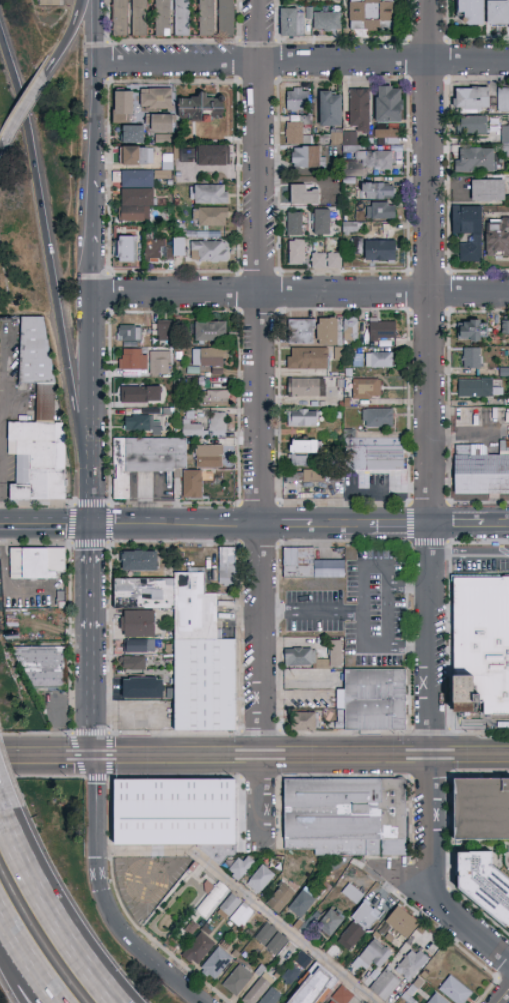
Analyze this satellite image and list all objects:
building: (50, 3)
building: (472, 11)
building: (498, 13)
building: (370, 14)
building: (139, 17)
building: (162, 17)
building: (182, 17)
building: (207, 17)
building: (226, 17)
building: (120, 18)
building: (326, 21)
building: (292, 22)
road: (69, 37)
road: (302, 64)
building: (156, 98)
building: (297, 99)
building: (473, 99)
building: (503, 99)
building: (389, 105)
road: (24, 107)
building: (123, 107)
building: (331, 108)
road: (95, 110)
building: (204, 110)
building: (359, 110)
building: (162, 123)
building: (472, 125)
building: (294, 132)
building: (133, 134)
building: (387, 134)
building: (506, 135)
building: (167, 136)
building: (342, 141)
road: (1, 145)
building: (184, 152)
building: (137, 156)
building: (213, 156)
building: (306, 157)
building: (376, 159)
building: (474, 160)
building: (453, 184)
building: (377, 191)
building: (488, 191)
building: (210, 194)
building: (136, 195)
building: (303, 195)
building: (380, 211)
building: (212, 217)
building: (322, 221)
building: (294, 223)
building: (352, 228)
building: (468, 231)
building: (498, 237)
building: (183, 245)
building: (357, 245)
road: (50, 248)
building: (125, 249)
building: (162, 249)
building: (380, 250)
building: (209, 251)
building: (296, 252)
road: (95, 260)
building: (319, 261)
building: (334, 261)
road: (301, 295)
building: (506, 327)
building: (351, 329)
building: (473, 330)
building: (210, 331)
building: (301, 331)
building: (328, 331)
building: (165, 333)
building: (132, 334)
building: (382, 334)
building: (207, 358)
building: (307, 358)
building: (471, 358)
building: (133, 359)
building: (379, 360)
building: (159, 363)
road: (261, 378)
road: (433, 378)
road: (94, 387)
building: (306, 387)
building: (476, 388)
building: (366, 389)
building: (140, 394)
building: (214, 398)
building: (378, 418)
building: (303, 419)
building: (38, 422)
building: (196, 422)
building: (141, 424)
building: (206, 426)
building: (305, 446)
building: (208, 456)
road: (2, 457)
building: (376, 458)
building: (300, 460)
building: (151, 464)
building: (481, 470)
building: (297, 475)
building: (313, 476)
road: (93, 500)
road: (46, 525)
traffic signals: (93, 525)
road: (177, 526)
road: (348, 526)
road: (457, 526)
road: (495, 526)
road: (471, 552)
building: (40, 560)
building: (139, 561)
building: (310, 565)
building: (227, 566)
road: (362, 589)
building: (64, 594)
building: (173, 602)
road: (312, 608)
building: (138, 624)
road: (94, 641)
building: (477, 644)
building: (139, 646)
building: (169, 647)
building: (335, 653)
building: (304, 658)
building: (45, 662)
building: (133, 663)
building: (296, 680)
building: (205, 685)
building: (439, 687)
building: (142, 688)
building: (170, 694)
building: (375, 699)
building: (340, 700)
building: (319, 703)
building: (173, 717)
building: (339, 720)
building: (305, 721)
railway: (254, 752)
road: (131, 756)
road: (349, 756)
road: (472, 756)
traffic signals: (96, 757)
railway: (254, 760)
road: (263, 803)
road: (97, 804)
building: (481, 809)
road: (3, 810)
building: (177, 814)
building: (346, 816)
road: (434, 825)
building: (240, 868)
building: (196, 870)
building: (260, 879)
building: (484, 884)
building: (353, 894)
building: (211, 897)
road: (250, 897)
building: (280, 898)
building: (301, 904)
building: (229, 907)
building: (367, 915)
road: (50, 916)
building: (241, 916)
road: (0, 921)
road: (115, 922)
building: (331, 922)
building: (402, 923)
building: (298, 925)
building: (191, 928)
road: (472, 928)
building: (265, 934)
building: (352, 936)
building: (376, 936)
building: (389, 938)
building: (276, 944)
building: (200, 946)
building: (236, 954)
building: (374, 955)
building: (303, 960)
road: (16, 963)
building: (216, 963)
road: (28, 964)
building: (411, 965)
building: (260, 971)
building: (291, 975)
building: (424, 975)
building: (238, 980)
building: (385, 984)
building: (313, 986)
building: (415, 987)
road: (188, 988)
building: (258, 989)
building: (454, 990)
building: (342, 995)
building: (271, 996)
building: (408, 998)
road: (505, 998)
building: (437, 999)
building: (332, 1002)

